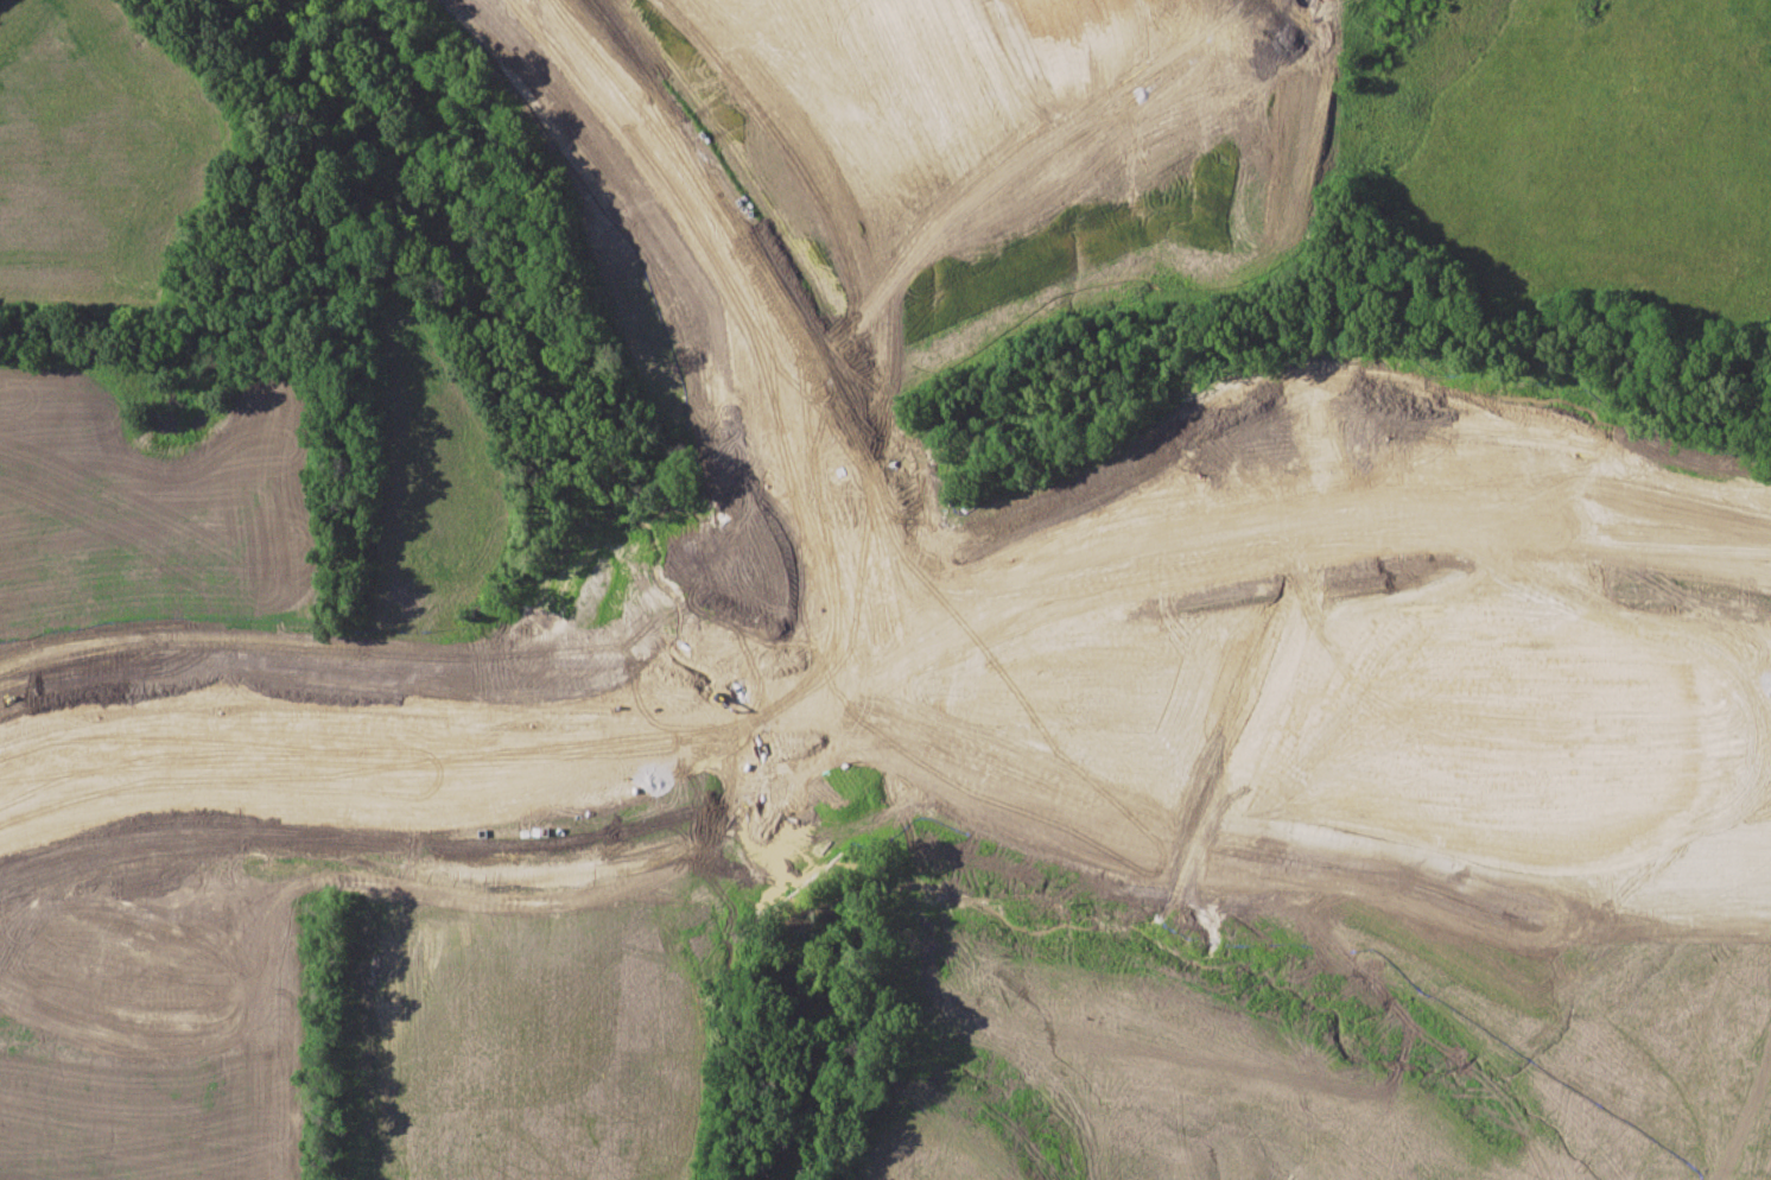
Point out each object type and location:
crop: (1024, 145)
crop: (103, 170)
road: (711, 242)
road: (761, 261)
road: (1265, 432)
road: (1319, 456)
road: (1333, 507)
road: (849, 569)
road: (834, 577)
road: (908, 623)
road: (958, 629)
road: (814, 690)
road: (482, 716)
road: (424, 740)
road: (910, 750)
road: (442, 795)

